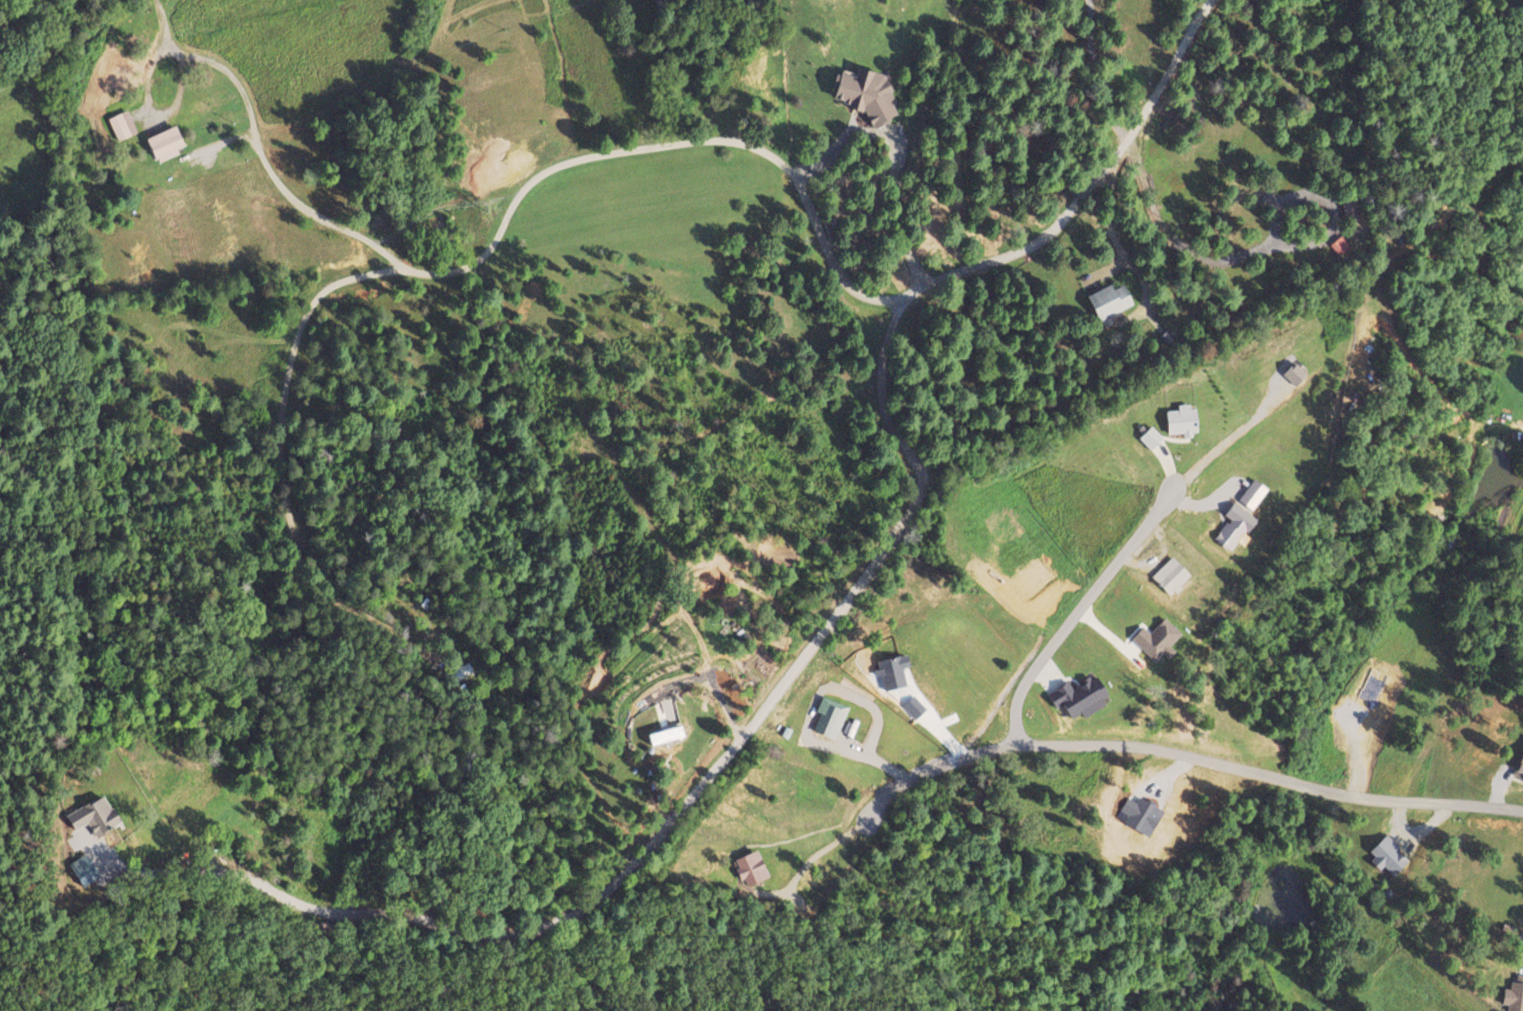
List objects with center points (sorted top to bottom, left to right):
building: (865, 95)
building: (121, 125)
building: (163, 144)
building: (1349, 206)
building: (1339, 245)
building: (1108, 301)
building: (1166, 337)
building: (1293, 374)
building: (1181, 420)
building: (1149, 437)
building: (1252, 493)
building: (1234, 525)
building: (1170, 575)
road: (1079, 611)
building: (1156, 639)
building: (891, 670)
building: (1078, 695)
building: (828, 717)
building: (664, 734)
road: (1185, 755)
building: (1519, 766)
building: (91, 815)
building: (1387, 854)
building: (749, 867)
building: (82, 869)

